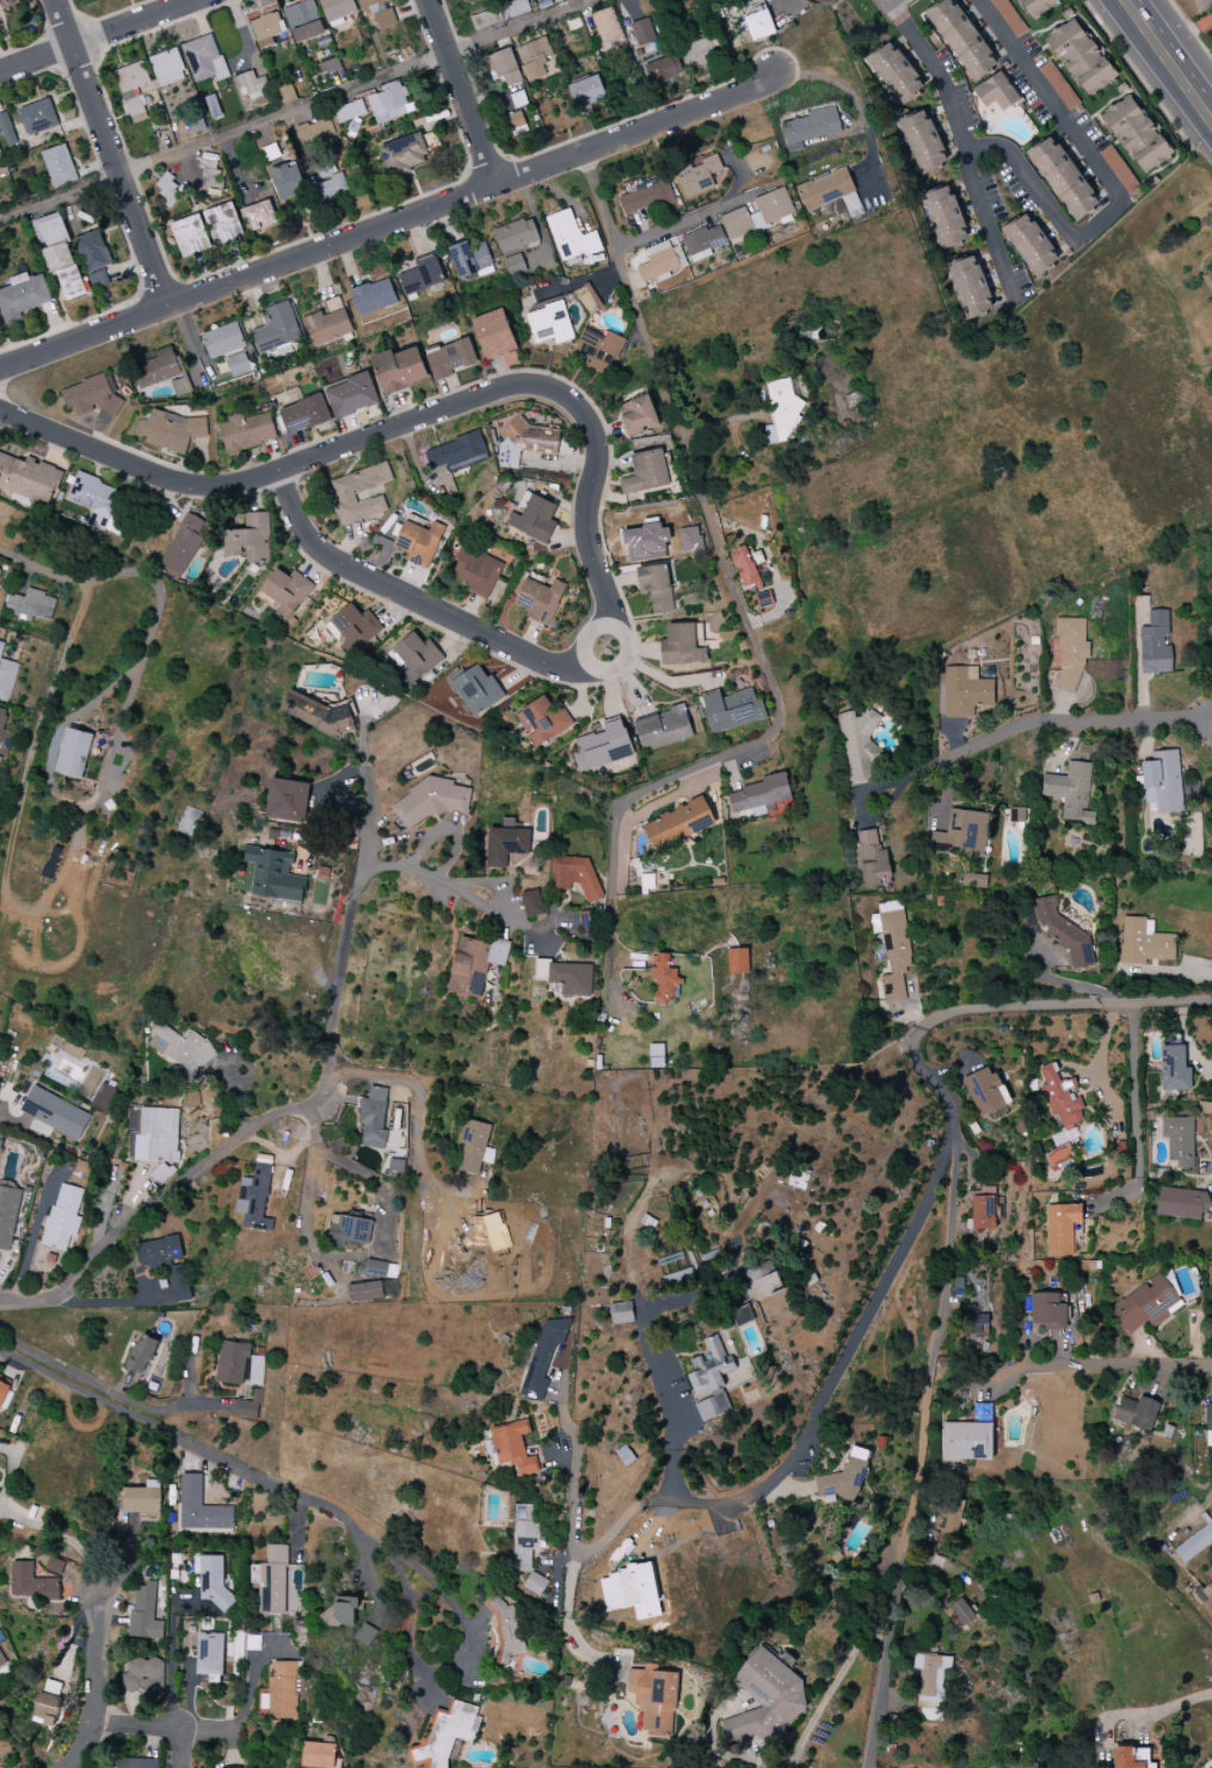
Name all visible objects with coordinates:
building: (370, 6)
building: (1035, 7)
building: (515, 8)
building: (338, 10)
building: (1008, 17)
building: (652, 18)
building: (384, 19)
building: (482, 20)
building: (303, 22)
building: (757, 25)
road: (518, 26)
building: (605, 26)
road: (1192, 27)
building: (266, 29)
road: (97, 36)
building: (961, 38)
building: (700, 53)
road: (1170, 55)
building: (1081, 57)
building: (204, 59)
building: (535, 60)
building: (328, 66)
building: (167, 67)
building: (503, 67)
building: (663, 68)
building: (894, 73)
building: (130, 79)
building: (248, 86)
building: (1058, 86)
road: (461, 91)
building: (586, 92)
building: (996, 92)
road: (851, 97)
building: (389, 102)
building: (213, 108)
building: (136, 110)
building: (347, 112)
road: (284, 116)
building: (37, 117)
building: (810, 128)
building: (6, 130)
building: (315, 134)
building: (1136, 135)
building: (922, 142)
road: (962, 143)
road: (112, 153)
building: (410, 153)
building: (59, 166)
building: (1119, 170)
building: (699, 176)
building: (1063, 178)
building: (287, 180)
road: (1112, 185)
building: (330, 189)
building: (830, 192)
building: (646, 196)
road: (61, 198)
building: (758, 214)
building: (259, 216)
building: (945, 217)
road: (688, 220)
building: (222, 225)
road: (388, 225)
building: (190, 235)
building: (516, 235)
building: (571, 238)
building: (702, 243)
building: (1029, 245)
building: (59, 256)
building: (93, 258)
building: (469, 258)
building: (660, 264)
building: (515, 265)
building: (1208, 275)
building: (422, 277)
building: (970, 288)
building: (373, 296)
building: (24, 297)
building: (328, 323)
building: (549, 324)
building: (276, 329)
building: (494, 334)
building: (223, 340)
building: (449, 360)
building: (236, 364)
building: (156, 369)
building: (399, 369)
building: (92, 395)
building: (351, 395)
building: (781, 411)
building: (304, 415)
building: (638, 416)
building: (170, 430)
building: (246, 431)
building: (525, 442)
road: (356, 444)
building: (457, 453)
road: (137, 466)
building: (646, 473)
building: (29, 479)
building: (345, 495)
building: (96, 501)
building: (534, 520)
building: (248, 539)
building: (689, 539)
building: (645, 541)
building: (418, 542)
building: (184, 545)
building: (476, 572)
building: (656, 588)
building: (287, 591)
building: (540, 600)
building: (763, 601)
building: (31, 606)
road: (158, 607)
road: (746, 620)
road: (586, 634)
building: (681, 645)
building: (1155, 645)
building: (0, 647)
building: (1070, 650)
building: (416, 655)
road: (625, 659)
building: (6, 679)
building: (476, 690)
building: (965, 692)
building: (732, 710)
building: (315, 713)
building: (543, 722)
road: (1072, 723)
building: (5, 728)
building: (663, 729)
building: (857, 745)
building: (603, 747)
building: (74, 754)
building: (1163, 782)
road: (364, 784)
building: (1071, 792)
building: (759, 794)
building: (287, 800)
building: (431, 802)
building: (678, 824)
building: (961, 834)
building: (505, 846)
building: (872, 859)
building: (51, 862)
building: (273, 874)
building: (574, 874)
building: (531, 903)
building: (1064, 934)
building: (1144, 943)
building: (737, 960)
building: (475, 964)
building: (541, 969)
building: (663, 977)
building: (571, 978)
road: (1183, 1043)
building: (66, 1048)
building: (180, 1050)
building: (656, 1056)
road: (1101, 1060)
building: (1174, 1069)
road: (327, 1075)
building: (985, 1091)
building: (103, 1098)
building: (1060, 1098)
building: (198, 1101)
building: (1204, 1109)
road: (419, 1110)
building: (55, 1113)
road: (1134, 1117)
building: (373, 1118)
building: (156, 1135)
building: (1179, 1140)
building: (475, 1146)
road: (952, 1153)
building: (160, 1173)
building: (256, 1196)
building: (1181, 1204)
building: (984, 1210)
building: (7, 1215)
building: (63, 1218)
building: (1063, 1228)
building: (347, 1230)
building: (159, 1252)
road: (342, 1258)
building: (673, 1269)
building: (178, 1283)
building: (763, 1283)
building: (364, 1291)
road: (90, 1302)
building: (1146, 1304)
building: (1047, 1312)
building: (621, 1313)
building: (742, 1315)
building: (973, 1321)
building: (141, 1353)
building: (542, 1357)
building: (233, 1362)
road: (1096, 1365)
building: (256, 1371)
building: (718, 1381)
road: (101, 1387)
building: (4, 1389)
building: (248, 1406)
building: (1136, 1412)
building: (1208, 1418)
road: (675, 1420)
building: (966, 1441)
road: (190, 1444)
building: (1210, 1444)
building: (513, 1448)
road: (771, 1478)
building: (844, 1478)
building: (142, 1499)
building: (201, 1509)
building: (950, 1520)
road: (57, 1534)
road: (295, 1534)
building: (525, 1537)
building: (1194, 1543)
building: (54, 1566)
road: (370, 1576)
building: (31, 1583)
building: (273, 1583)
building: (630, 1591)
park: (721, 1592)
building: (1205, 1594)
building: (340, 1612)
building: (144, 1613)
building: (959, 1614)
road: (567, 1622)
building: (503, 1632)
building: (365, 1634)
road: (173, 1653)
building: (209, 1656)
road: (457, 1657)
building: (1, 1663)
park: (776, 1671)
road: (884, 1675)
building: (142, 1678)
building: (930, 1680)
road: (96, 1686)
building: (281, 1692)
building: (765, 1699)
building: (656, 1700)
road: (1173, 1706)
building: (47, 1709)
road: (1065, 1721)
road: (137, 1726)
building: (444, 1735)
road: (805, 1741)
road: (180, 1748)
building: (318, 1755)
building: (1131, 1757)
building: (129, 1763)
building: (1020, 1764)

